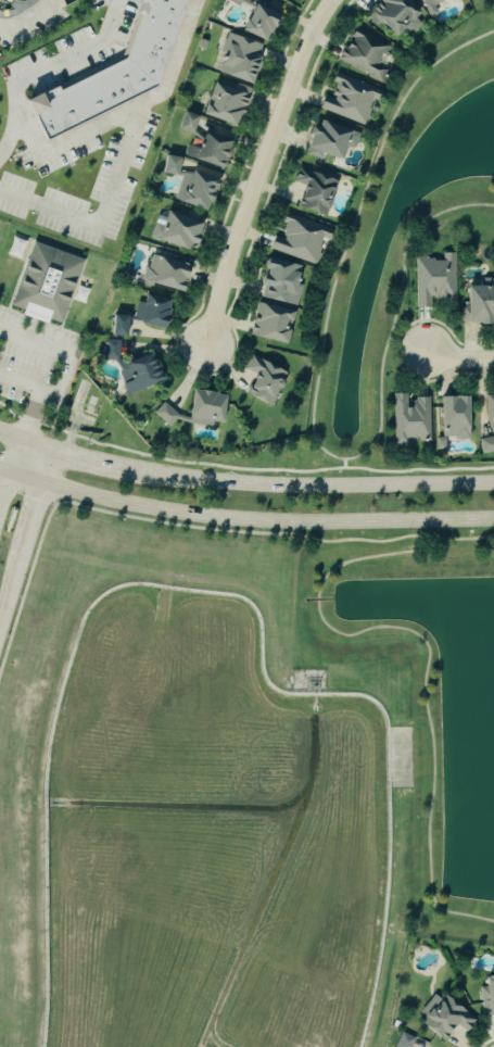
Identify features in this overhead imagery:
road: (117, 0)
building: (233, 2)
building: (430, 4)
road: (28, 15)
building: (390, 15)
building: (256, 23)
building: (365, 55)
building: (237, 60)
road: (46, 71)
building: (116, 72)
building: (349, 99)
building: (223, 103)
building: (192, 122)
road: (74, 138)
building: (328, 140)
building: (206, 151)
road: (126, 155)
building: (178, 164)
road: (263, 169)
building: (194, 191)
building: (313, 192)
building: (175, 231)
building: (297, 239)
building: (163, 274)
building: (433, 280)
building: (278, 282)
building: (52, 283)
building: (479, 304)
building: (150, 312)
building: (269, 324)
building: (124, 325)
road: (406, 344)
road: (55, 350)
building: (114, 350)
road: (458, 358)
building: (138, 373)
building: (261, 380)
road: (314, 392)
road: (39, 394)
building: (204, 408)
building: (487, 411)
building: (164, 415)
building: (451, 417)
building: (408, 419)
road: (12, 437)
building: (486, 438)
road: (79, 457)
road: (343, 463)
road: (258, 469)
road: (10, 475)
road: (315, 487)
road: (244, 519)
road: (266, 532)
road: (29, 538)
road: (375, 555)
road: (319, 598)
road: (432, 734)
building: (486, 995)
building: (448, 1017)
building: (407, 1040)

